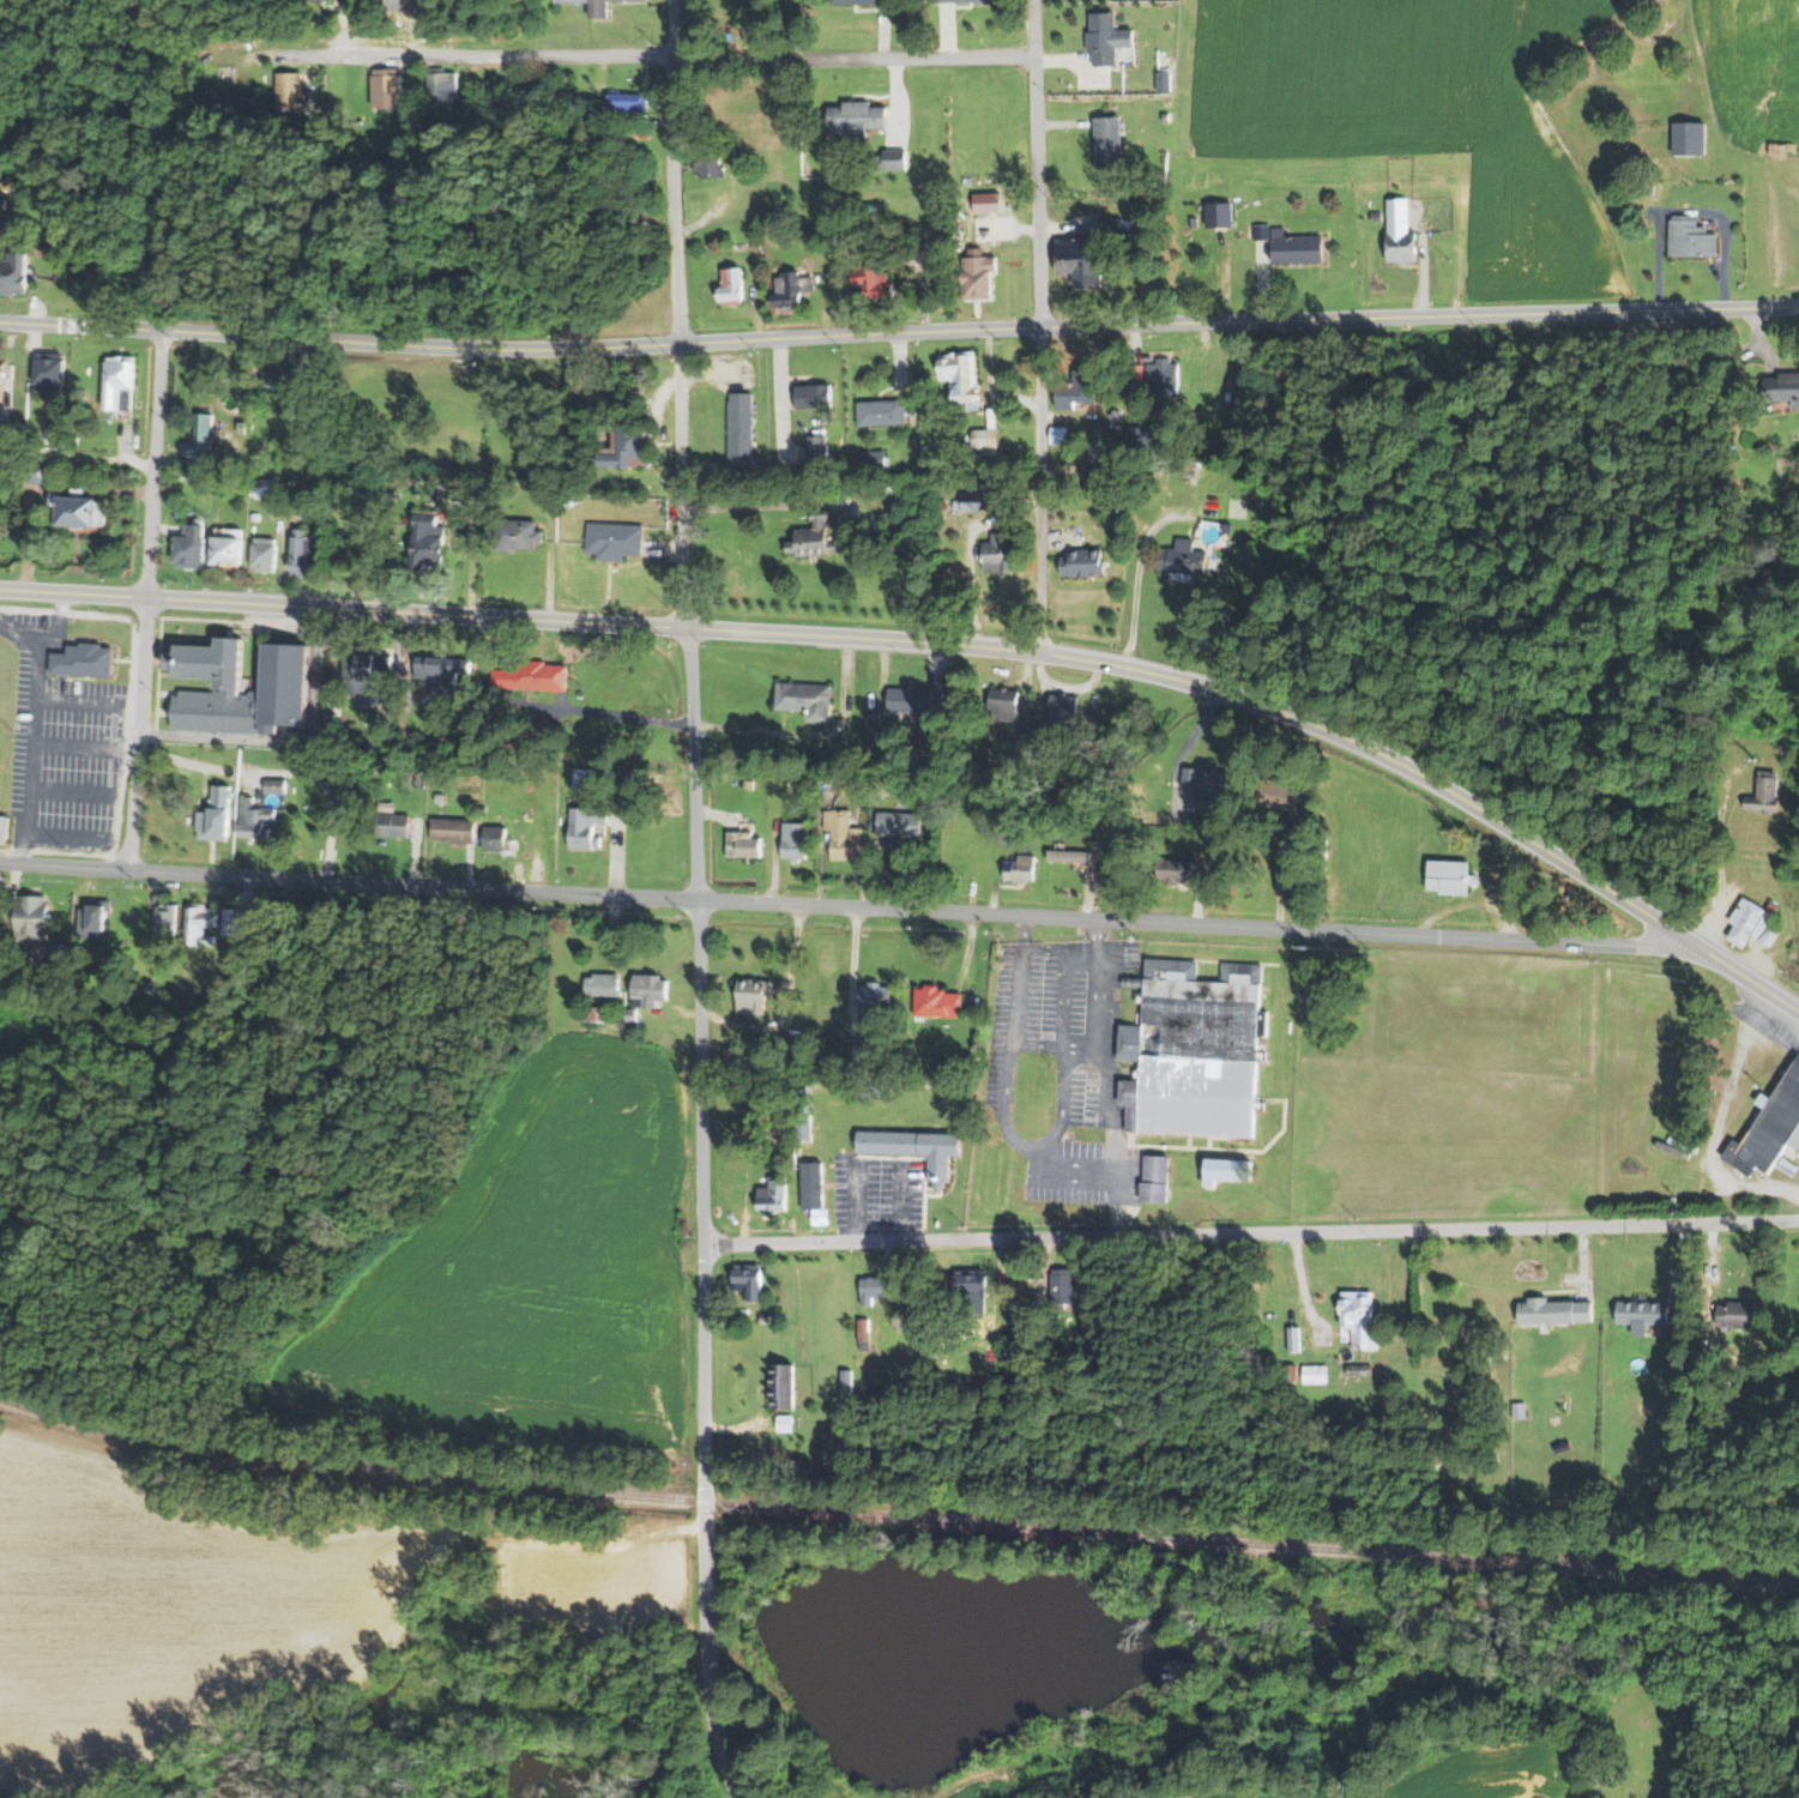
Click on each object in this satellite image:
building: (315, 0)
building: (850, 1)
building: (966, 1)
building: (745, 2)
building: (593, 6)
building: (1106, 38)
road: (472, 58)
road: (853, 59)
crop: (1753, 68)
building: (1164, 82)
building: (441, 85)
building: (387, 90)
building: (292, 95)
building: (627, 103)
building: (322, 108)
building: (856, 119)
building: (1166, 119)
crop: (1413, 120)
building: (1690, 139)
building: (1107, 141)
building: (731, 150)
building: (891, 159)
road: (1038, 163)
building: (710, 168)
building: (982, 207)
building: (1219, 212)
building: (1376, 215)
building: (1193, 221)
building: (1099, 224)
building: (1127, 224)
building: (1263, 230)
building: (1400, 233)
building: (1691, 239)
building: (958, 240)
building: (756, 245)
building: (1294, 246)
building: (871, 257)
building: (1080, 258)
building: (12, 270)
building: (977, 274)
building: (874, 283)
building: (731, 284)
building: (790, 288)
road: (899, 334)
building: (1137, 370)
building: (960, 372)
building: (1164, 374)
building: (0, 379)
building: (48, 379)
building: (573, 379)
building: (117, 382)
building: (271, 385)
building: (1077, 387)
building: (1783, 387)
building: (1230, 391)
building: (814, 396)
building: (881, 412)
building: (1243, 420)
building: (241, 426)
building: (742, 428)
building: (5, 434)
building: (1060, 434)
building: (1140, 434)
building: (201, 435)
building: (71, 438)
building: (984, 440)
building: (1213, 442)
building: (627, 446)
building: (816, 448)
road: (77, 455)
building: (873, 460)
building: (34, 471)
building: (1190, 472)
building: (182, 475)
building: (262, 487)
road: (1042, 488)
building: (216, 490)
building: (985, 490)
building: (388, 494)
building: (476, 495)
building: (566, 497)
road: (769, 506)
building: (71, 507)
building: (254, 515)
building: (514, 533)
building: (612, 538)
building: (819, 539)
building: (425, 543)
building: (188, 545)
building: (225, 547)
building: (262, 554)
building: (302, 554)
building: (998, 554)
building: (1182, 556)
building: (1083, 563)
road: (1137, 577)
road: (145, 598)
road: (943, 644)
building: (83, 659)
building: (364, 675)
building: (441, 675)
building: (530, 676)
building: (239, 686)
building: (807, 699)
building: (914, 704)
building: (998, 704)
building: (328, 706)
building: (1065, 712)
road: (602, 713)
building: (541, 725)
road: (809, 735)
park: (7, 736)
building: (1085, 756)
building: (416, 774)
building: (627, 774)
building: (380, 776)
building: (588, 778)
building: (748, 784)
building: (274, 785)
building: (893, 785)
building: (1212, 785)
building: (1764, 795)
building: (1290, 796)
building: (213, 816)
building: (254, 817)
building: (390, 821)
building: (900, 822)
building: (1086, 822)
building: (585, 826)
building: (4, 827)
building: (1111, 828)
building: (453, 829)
building: (845, 835)
building: (795, 839)
building: (497, 840)
building: (743, 845)
building: (1299, 846)
building: (1069, 856)
road: (694, 859)
road: (65, 863)
building: (1019, 870)
building: (1176, 870)
building: (1451, 877)
road: (911, 910)
building: (31, 918)
building: (237, 919)
building: (91, 921)
building: (164, 922)
building: (1753, 923)
building: (199, 924)
building: (6, 948)
road: (1061, 949)
building: (56, 984)
building: (602, 984)
building: (150, 987)
building: (647, 989)
building: (875, 995)
building: (753, 997)
road: (1065, 997)
building: (936, 1002)
building: (630, 1015)
road: (1040, 1045)
road: (1081, 1046)
building: (1194, 1052)
building: (735, 1055)
parking lot: (1063, 1064)
building: (875, 1090)
road: (1109, 1096)
road: (1006, 1097)
building: (795, 1102)
road: (1716, 1120)
building: (738, 1128)
building: (1770, 1129)
building: (914, 1150)
building: (1157, 1168)
building: (1226, 1170)
building: (813, 1185)
building: (1153, 1191)
building: (773, 1194)
parking lot: (881, 1195)
building: (820, 1217)
road: (1251, 1233)
crop: (529, 1273)
building: (748, 1280)
building: (875, 1287)
building: (1062, 1287)
building: (970, 1291)
building: (1553, 1311)
building: (1643, 1314)
building: (1737, 1315)
building: (766, 1320)
building: (1359, 1323)
building: (863, 1333)
building: (1293, 1339)
building: (1051, 1344)
building: (1015, 1352)
building: (1360, 1370)
building: (1315, 1374)
building: (1290, 1376)
building: (846, 1381)
building: (783, 1387)
building: (894, 1389)
building: (1520, 1411)
building: (1665, 1412)
building: (785, 1424)
building: (798, 1466)
railway: (895, 1518)
crop: (170, 1615)
road: (725, 1758)

